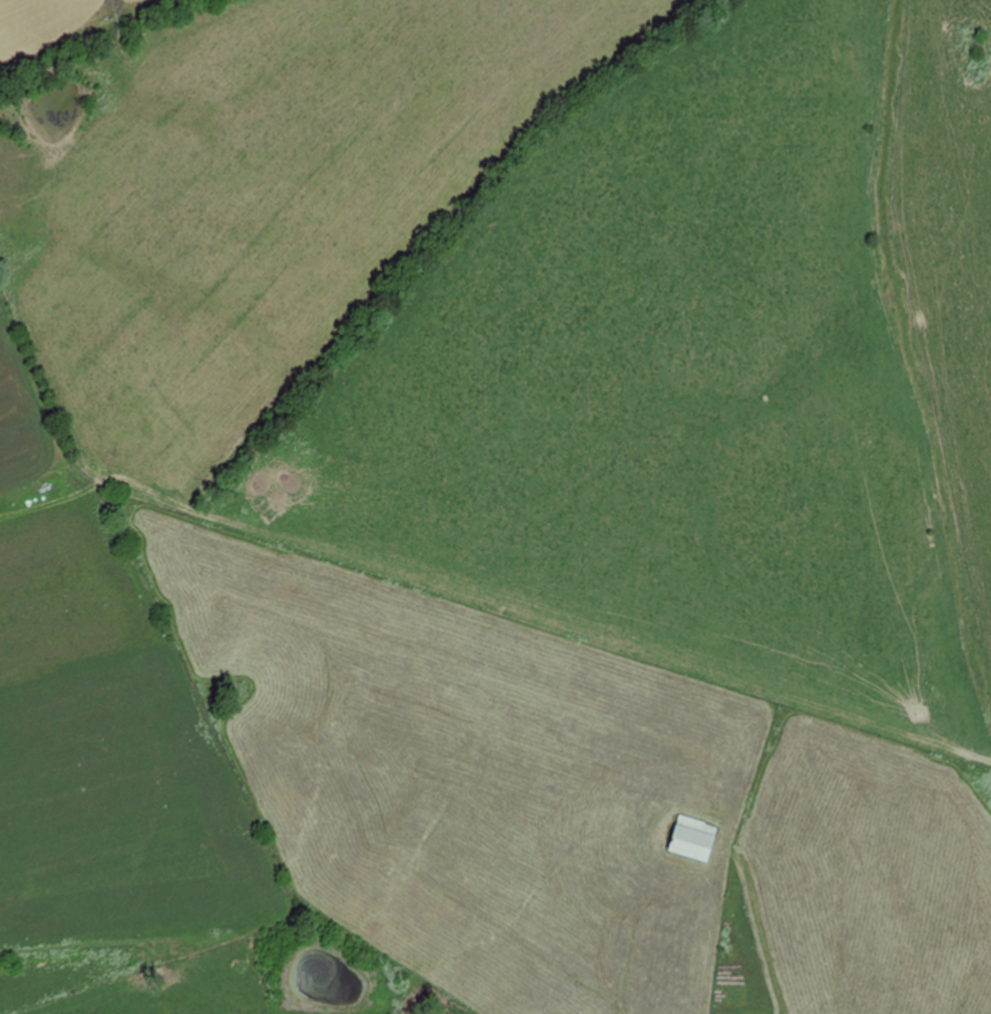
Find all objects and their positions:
building: (693, 839)

